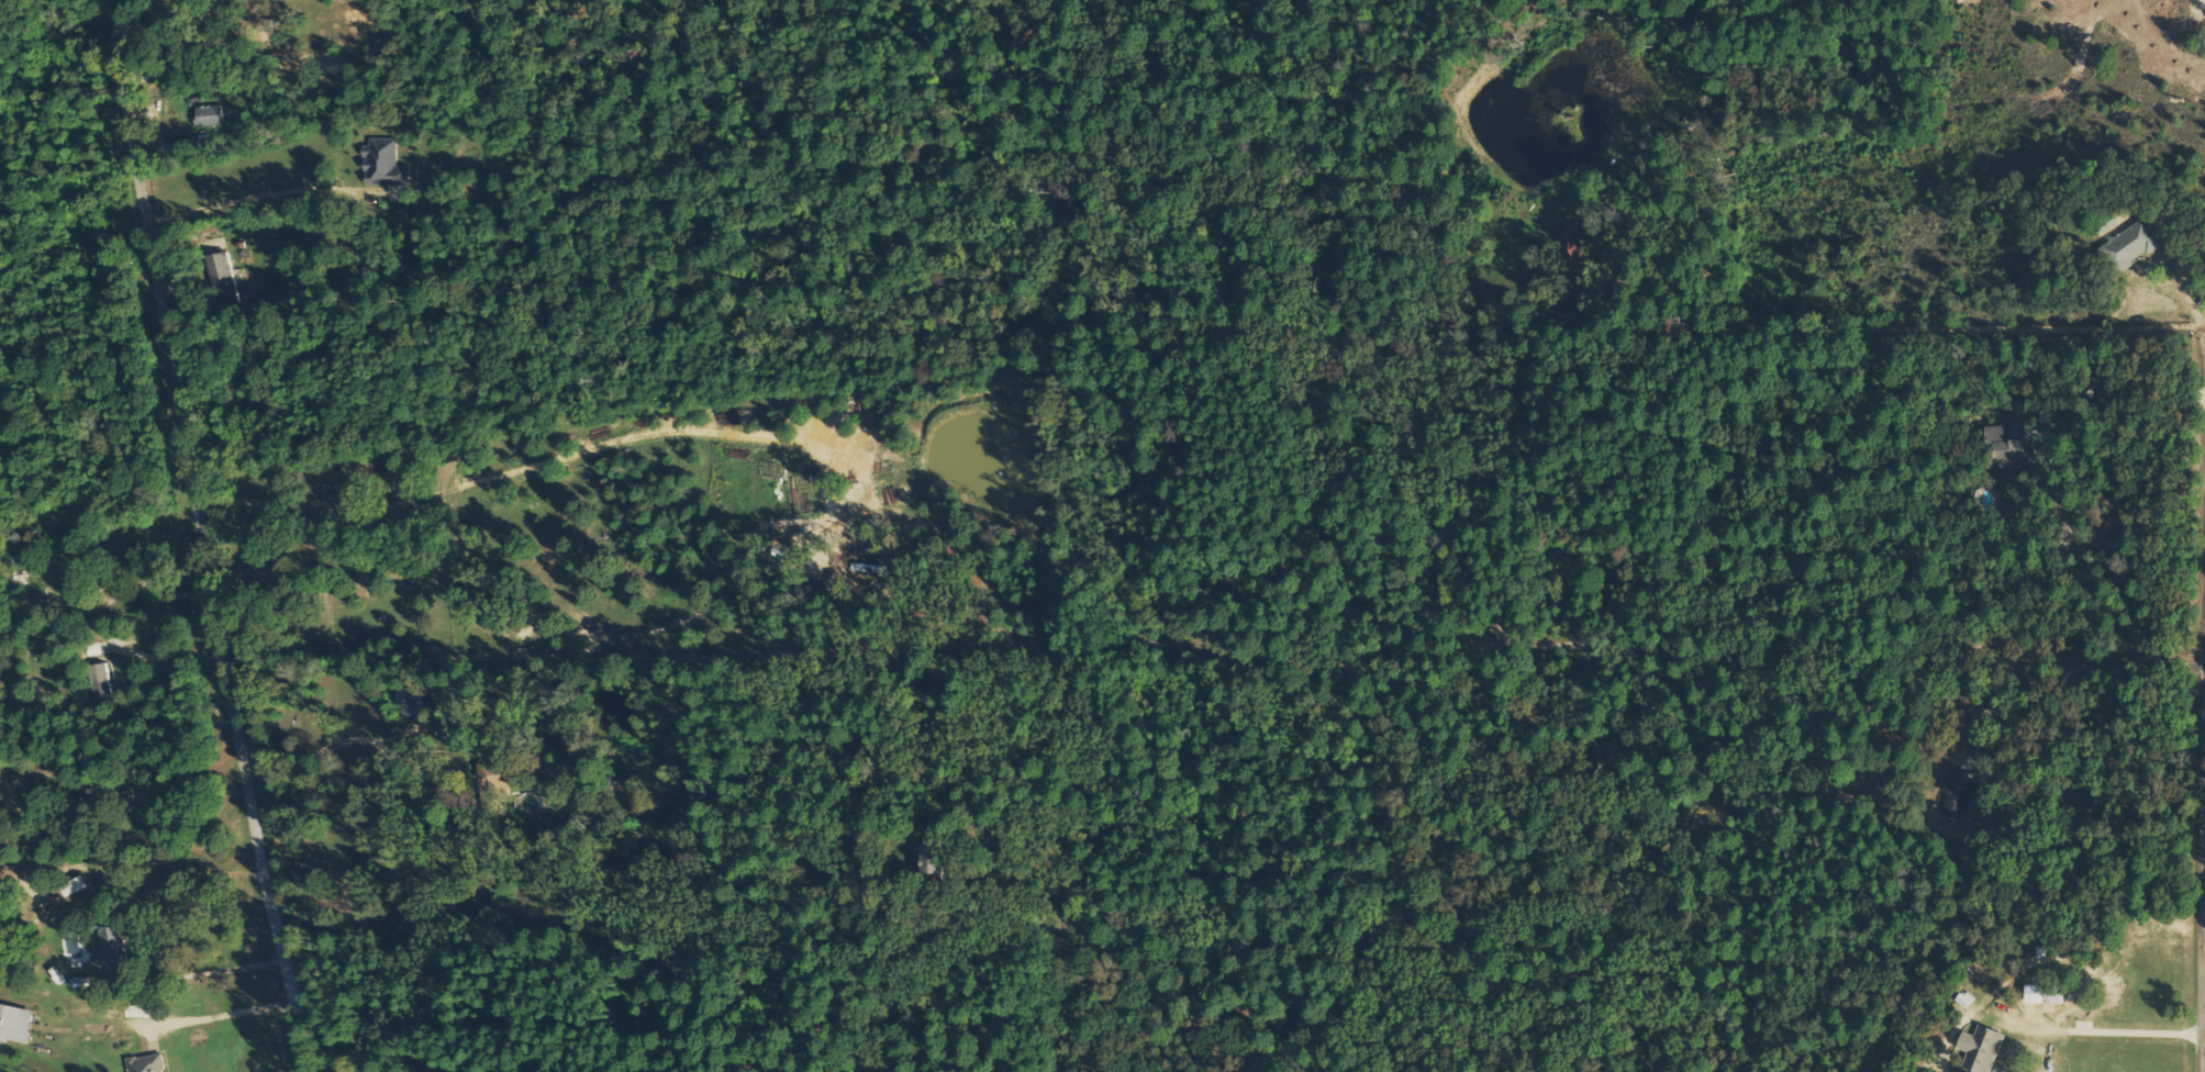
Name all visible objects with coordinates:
building: (211, 114)
building: (385, 163)
building: (1567, 245)
building: (2132, 245)
building: (222, 273)
building: (2009, 444)
road: (207, 536)
building: (99, 682)
building: (409, 703)
road: (332, 746)
building: (494, 773)
building: (1958, 793)
building: (935, 858)
building: (114, 949)
building: (2054, 991)
building: (143, 1009)
road: (215, 1015)
building: (15, 1021)
building: (1983, 1047)
building: (147, 1063)

